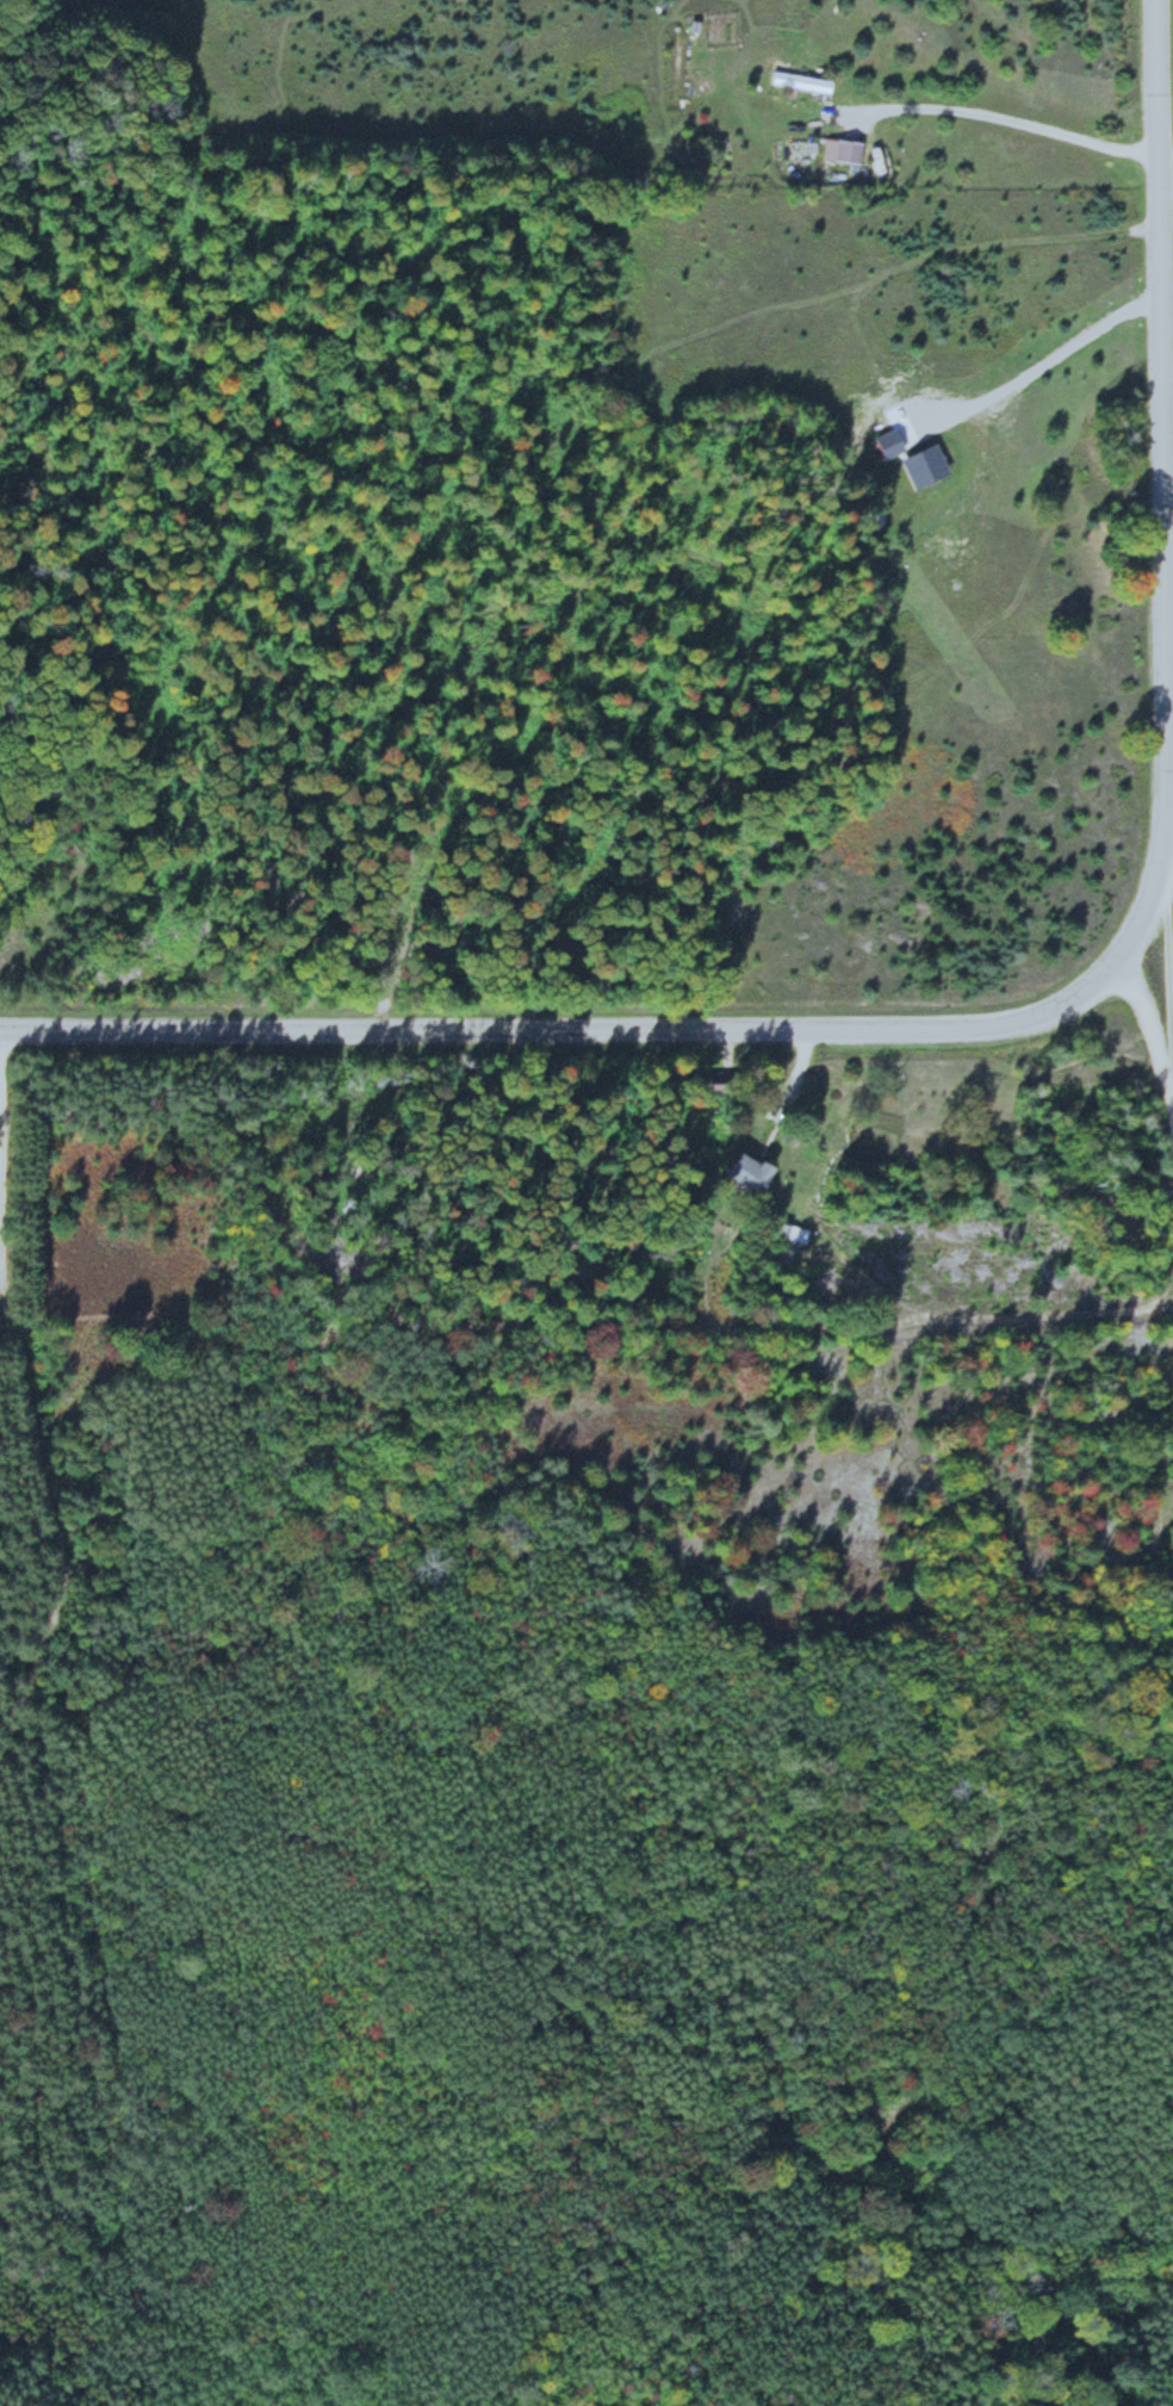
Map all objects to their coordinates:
building: (797, 81)
road: (987, 113)
road: (854, 118)
building: (838, 150)
road: (1155, 484)
road: (1162, 878)
road: (566, 1025)
road: (800, 1062)
road: (1163, 1078)
road: (5, 1164)
building: (746, 1174)
road: (988, 1316)
road: (1156, 1472)
road: (55, 1514)

